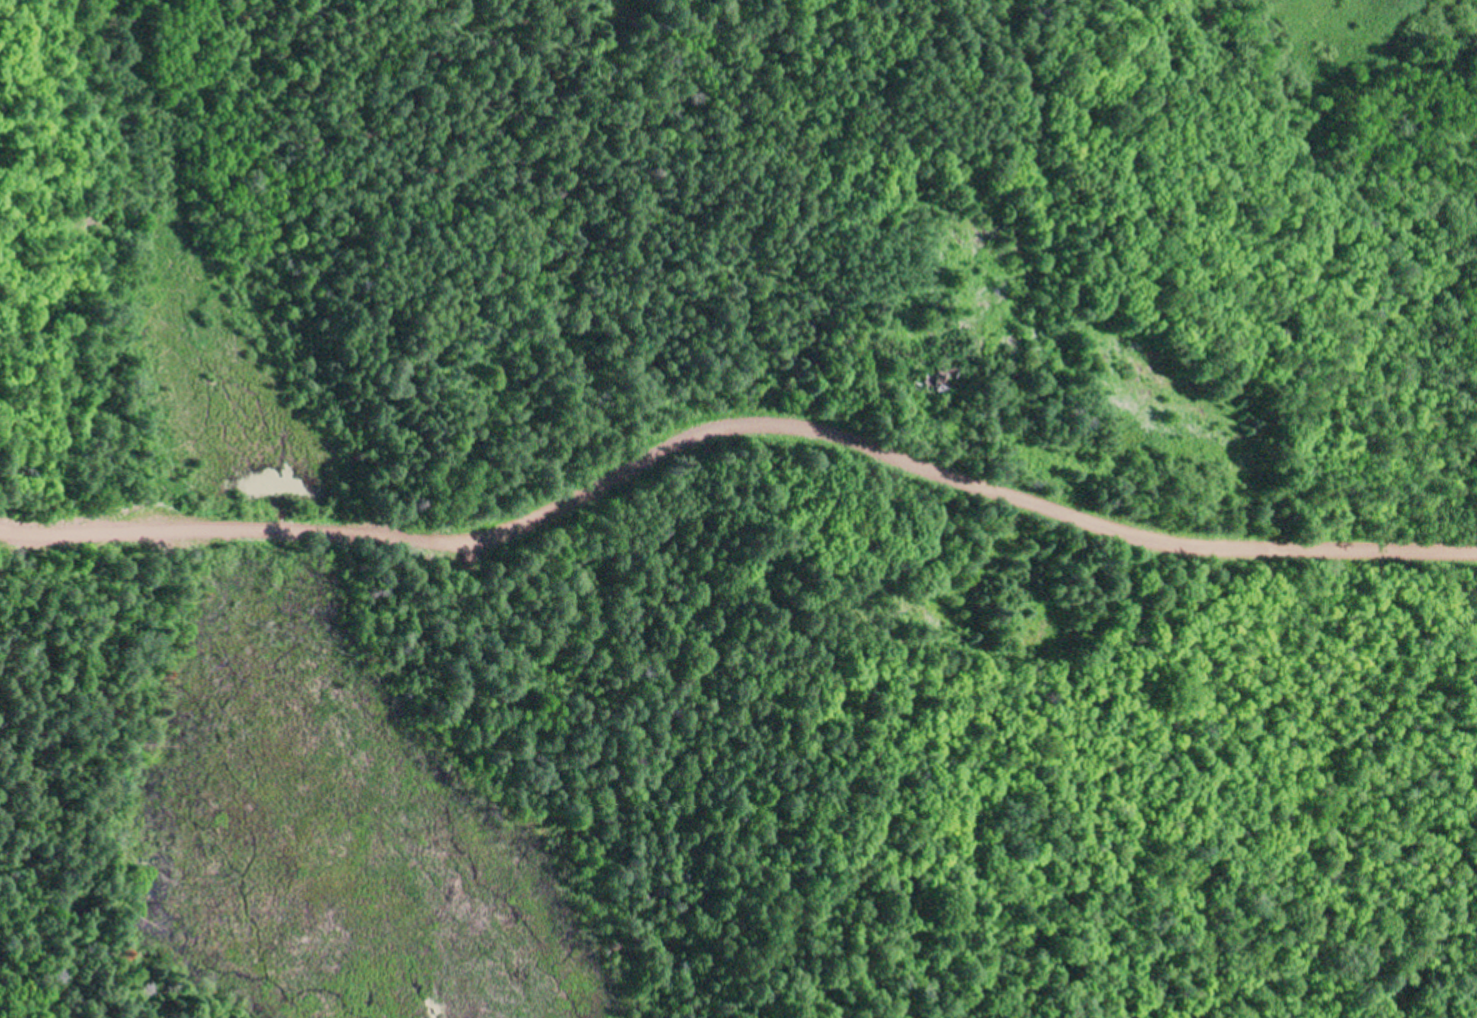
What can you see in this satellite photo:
building: (941, 381)
road: (734, 426)

